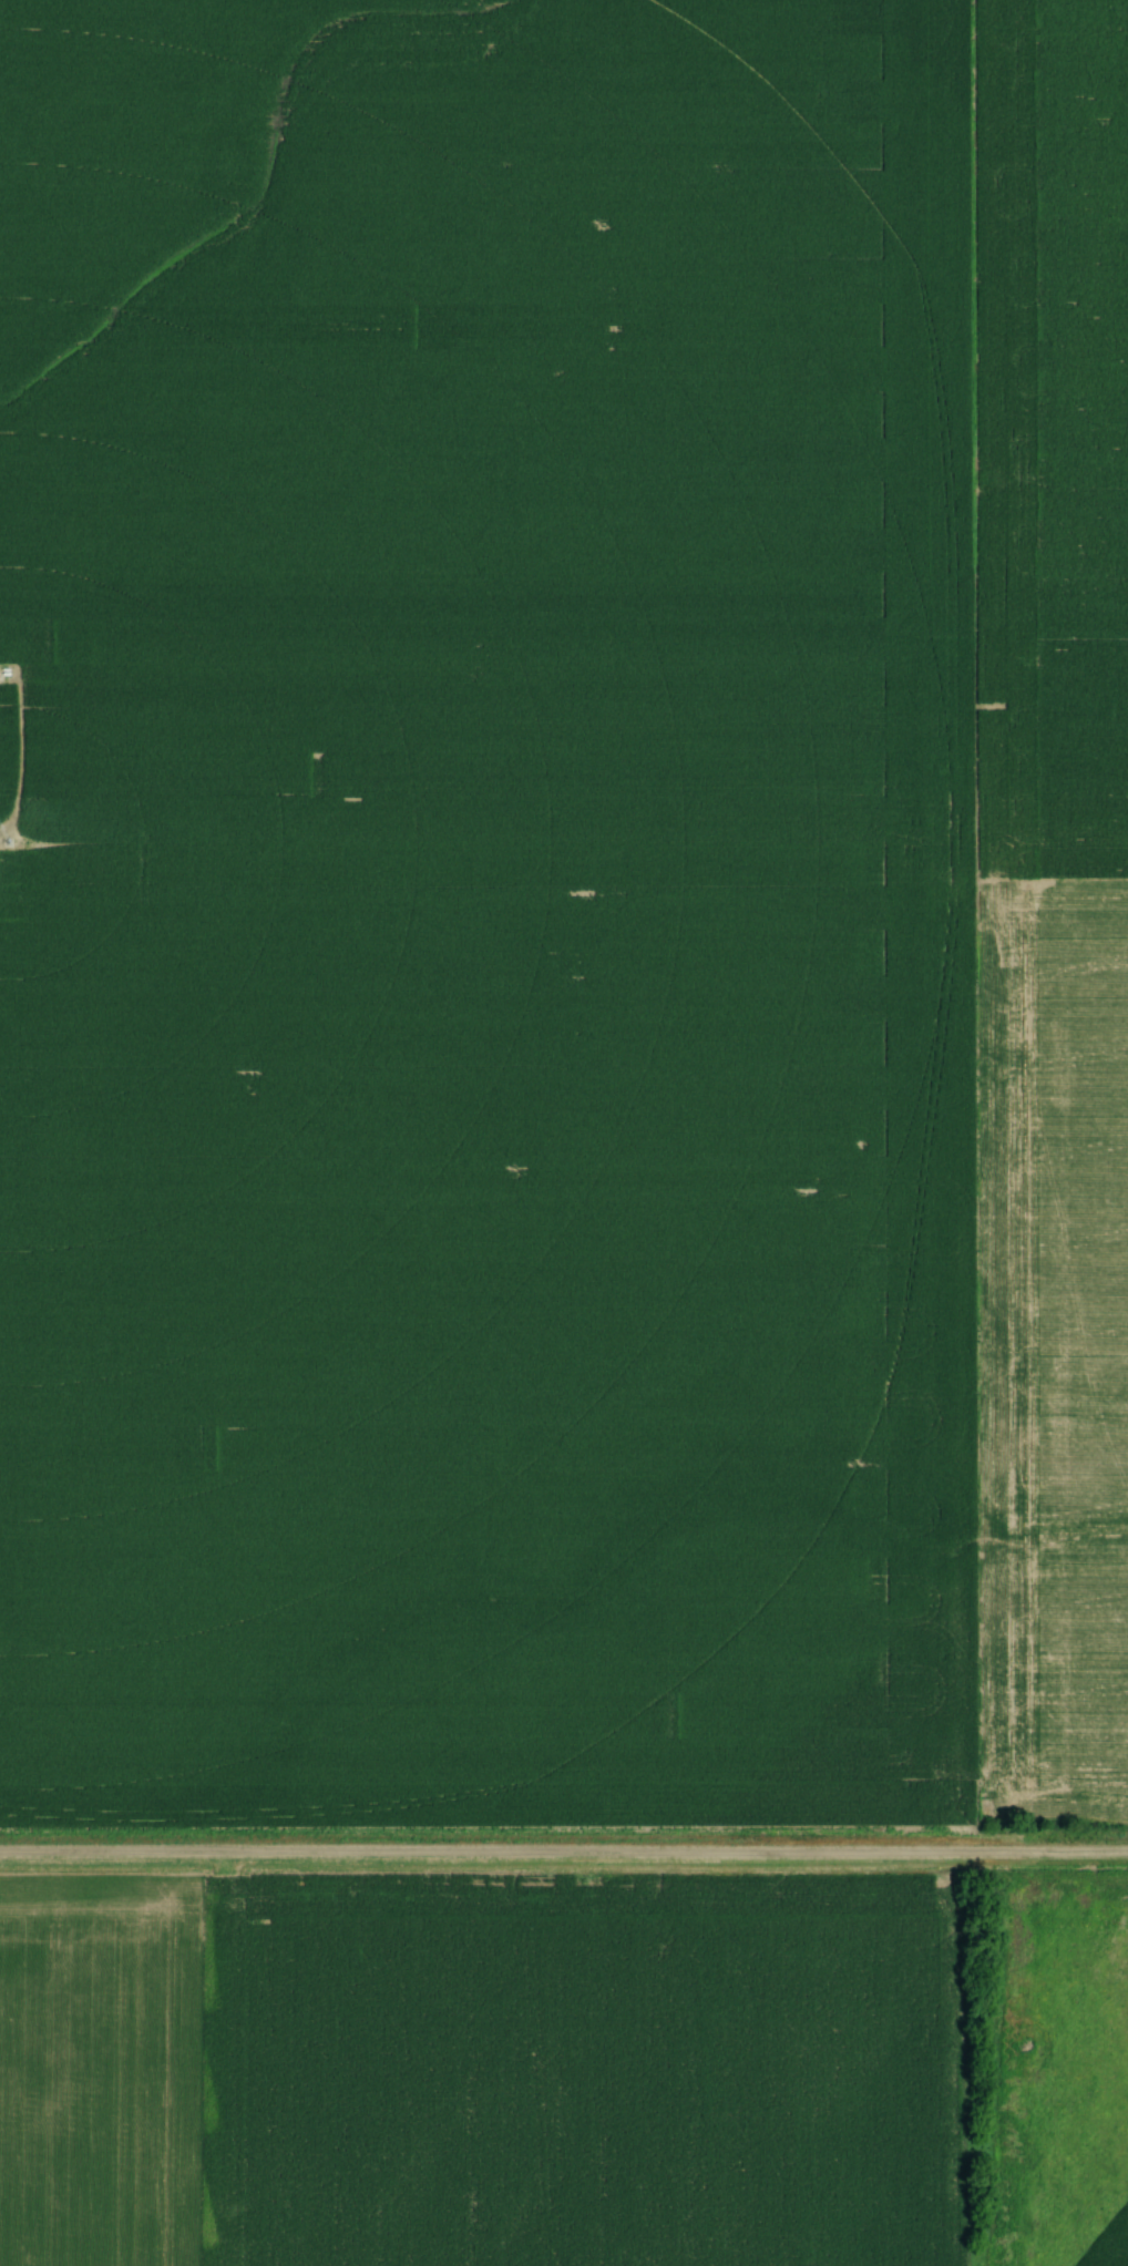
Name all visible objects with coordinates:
road: (564, 1856)

